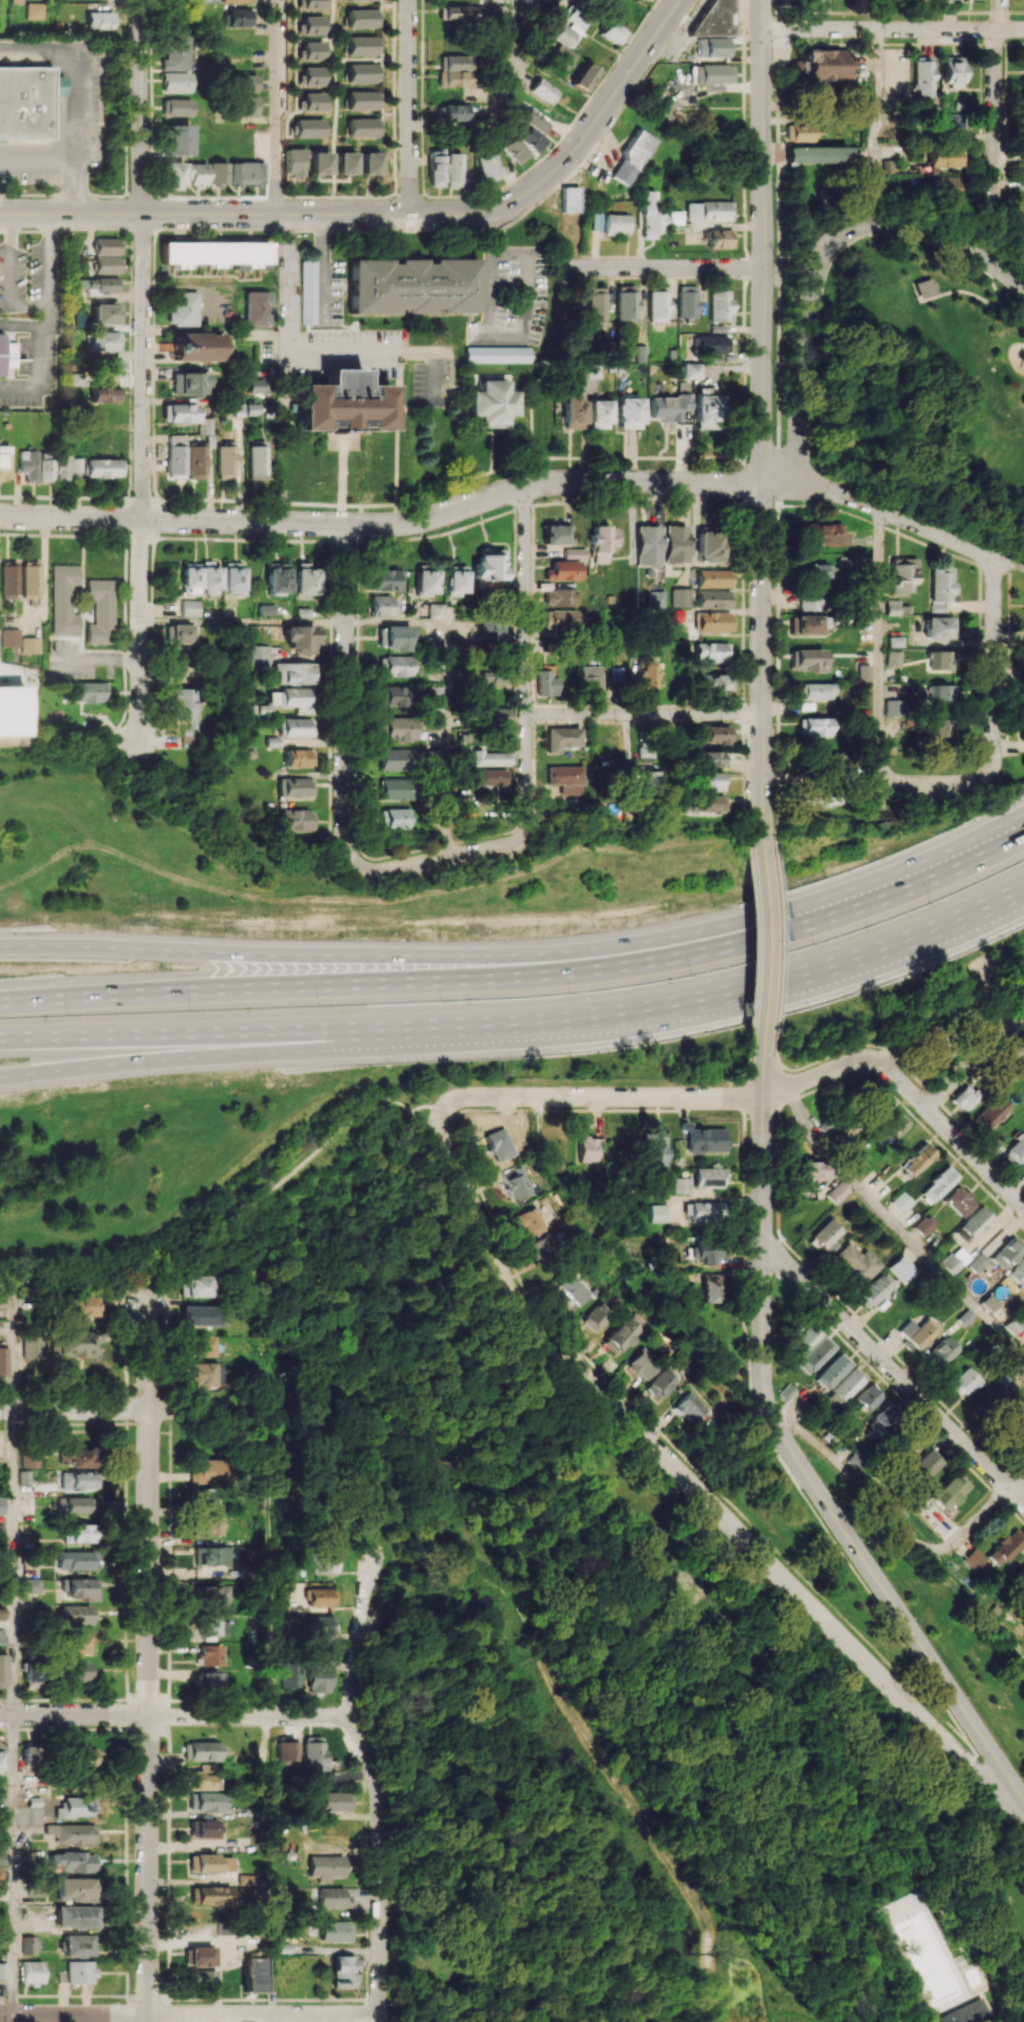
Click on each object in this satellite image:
building: (236, 0)
building: (349, 0)
building: (647, 0)
building: (16, 1)
building: (310, 4)
building: (37, 10)
building: (456, 12)
road: (1000, 14)
building: (240, 17)
building: (578, 17)
building: (362, 18)
building: (101, 20)
building: (311, 25)
road: (893, 29)
building: (613, 32)
road: (516, 34)
building: (565, 35)
building: (362, 45)
building: (712, 47)
building: (311, 51)
building: (176, 53)
building: (564, 56)
building: (455, 63)
building: (822, 64)
building: (1023, 70)
building: (951, 71)
building: (362, 73)
building: (711, 73)
building: (313, 76)
building: (585, 76)
building: (922, 78)
building: (454, 79)
building: (176, 82)
building: (243, 82)
building: (56, 86)
building: (544, 91)
road: (505, 92)
road: (74, 100)
building: (362, 100)
building: (312, 102)
building: (25, 104)
building: (243, 105)
road: (277, 106)
road: (410, 106)
building: (177, 107)
building: (456, 112)
road: (996, 116)
building: (948, 123)
building: (363, 127)
building: (308, 128)
road: (877, 128)
building: (531, 131)
building: (799, 131)
building: (177, 139)
building: (514, 149)
building: (817, 154)
building: (946, 156)
building: (632, 157)
road: (37, 160)
building: (294, 161)
building: (319, 162)
building: (345, 162)
building: (369, 163)
building: (487, 163)
building: (436, 167)
building: (456, 170)
building: (218, 172)
building: (247, 173)
building: (196, 174)
building: (173, 175)
building: (947, 187)
building: (570, 199)
building: (709, 210)
road: (394, 213)
road: (5, 214)
building: (652, 216)
building: (677, 217)
building: (615, 224)
road: (777, 237)
building: (720, 238)
building: (107, 246)
road: (839, 252)
building: (217, 254)
road: (826, 256)
building: (108, 264)
road: (666, 267)
road: (324, 268)
road: (47, 272)
road: (9, 278)
street lamp: (998, 282)
road: (288, 283)
building: (413, 286)
building: (927, 287)
road: (963, 291)
building: (308, 292)
building: (687, 301)
building: (626, 303)
building: (596, 304)
building: (658, 304)
building: (719, 306)
building: (257, 308)
building: (184, 309)
building: (106, 314)
road: (1012, 316)
road: (20, 325)
road: (505, 336)
building: (104, 341)
building: (198, 346)
building: (712, 346)
road: (383, 353)
building: (1, 354)
building: (497, 354)
building: (108, 367)
road: (144, 370)
building: (691, 370)
building: (579, 372)
road: (40, 374)
building: (190, 383)
building: (256, 385)
park: (927, 389)
building: (105, 394)
building: (341, 403)
building: (492, 403)
building: (669, 407)
building: (252, 409)
building: (180, 412)
building: (573, 412)
building: (629, 412)
building: (599, 414)
road: (763, 419)
building: (96, 442)
road: (793, 449)
building: (176, 456)
building: (226, 460)
building: (257, 460)
building: (4, 462)
building: (196, 462)
building: (28, 464)
building: (75, 464)
building: (46, 466)
building: (103, 467)
building: (62, 468)
road: (779, 476)
road: (905, 519)
road: (399, 523)
road: (896, 531)
building: (557, 534)
building: (821, 534)
building: (601, 541)
building: (676, 544)
building: (648, 545)
building: (709, 546)
building: (573, 553)
building: (850, 561)
road: (1019, 562)
building: (487, 565)
building: (562, 570)
building: (815, 571)
building: (902, 575)
building: (200, 578)
building: (233, 578)
building: (714, 578)
building: (30, 579)
building: (276, 579)
building: (455, 579)
building: (9, 580)
building: (385, 580)
building: (305, 581)
building: (425, 581)
building: (484, 585)
building: (941, 588)
building: (560, 596)
building: (681, 597)
building: (64, 599)
building: (656, 599)
building: (714, 599)
building: (809, 599)
building: (382, 606)
building: (892, 607)
building: (190, 608)
building: (265, 609)
building: (436, 610)
building: (101, 611)
building: (562, 619)
road: (243, 622)
building: (714, 622)
road: (397, 623)
building: (807, 624)
building: (940, 627)
building: (490, 631)
building: (180, 633)
building: (10, 637)
building: (397, 637)
building: (300, 639)
building: (895, 641)
building: (30, 645)
building: (712, 652)
road: (881, 655)
building: (258, 656)
building: (892, 658)
road: (97, 659)
building: (806, 660)
building: (942, 660)
road: (526, 661)
building: (396, 666)
building: (864, 672)
building: (295, 673)
road: (778, 673)
building: (617, 674)
building: (490, 676)
building: (647, 678)
building: (591, 680)
building: (718, 682)
building: (546, 683)
building: (88, 691)
building: (815, 691)
road: (347, 694)
building: (940, 694)
building: (395, 695)
building: (290, 700)
building: (436, 701)
building: (893, 707)
building: (11, 710)
building: (187, 712)
road: (644, 714)
building: (494, 716)
road: (995, 722)
building: (814, 726)
building: (297, 727)
building: (398, 728)
building: (665, 728)
building: (936, 728)
building: (1022, 729)
building: (713, 734)
building: (561, 738)
building: (272, 741)
road: (446, 741)
building: (643, 754)
building: (300, 758)
building: (489, 758)
building: (397, 759)
building: (708, 759)
building: (832, 760)
building: (489, 777)
building: (564, 778)
building: (648, 780)
building: (708, 781)
building: (296, 787)
building: (397, 789)
building: (822, 799)
building: (703, 804)
building: (396, 818)
building: (297, 820)
street lamp: (938, 830)
street lamp: (746, 842)
road: (440, 859)
street lamp: (828, 872)
street lamp: (927, 904)
street lamp: (714, 906)
street lamp: (106, 925)
street lamp: (595, 926)
street lamp: (228, 930)
street lamp: (349, 934)
street lamp: (472, 934)
street lamp: (1012, 934)
road: (764, 942)
road: (774, 943)
street lamp: (812, 945)
road: (520, 950)
street lamp: (778, 955)
street lamp: (691, 975)
street lamp: (915, 975)
road: (523, 977)
road: (992, 992)
road: (714, 993)
street lamp: (569, 994)
street lamp: (441, 1001)
street lamp: (319, 1006)
street lamp: (810, 1010)
street lamp: (191, 1011)
street lamp: (68, 1015)
road: (1011, 1021)
road: (193, 1032)
street lamp: (717, 1035)
building: (940, 1045)
road: (193, 1050)
street lamp: (608, 1052)
street lamp: (746, 1054)
road: (775, 1056)
street lamp: (511, 1062)
street lamp: (386, 1066)
road: (967, 1066)
street lamp: (259, 1075)
road: (746, 1075)
street lamp: (148, 1081)
street lamp: (669, 1082)
road: (908, 1089)
street lamp: (32, 1094)
road: (604, 1097)
building: (964, 1097)
road: (589, 1110)
street lamp: (528, 1113)
building: (989, 1114)
building: (892, 1125)
road: (441, 1136)
building: (703, 1139)
building: (587, 1148)
building: (1016, 1150)
building: (553, 1151)
building: (652, 1152)
building: (917, 1158)
building: (810, 1169)
building: (708, 1177)
building: (517, 1182)
building: (939, 1184)
building: (680, 1185)
building: (837, 1193)
building: (959, 1201)
building: (901, 1202)
building: (704, 1212)
building: (656, 1213)
road: (238, 1220)
building: (530, 1222)
building: (975, 1222)
building: (925, 1224)
road: (898, 1227)
road: (764, 1235)
building: (825, 1237)
building: (540, 1246)
building: (1008, 1252)
building: (707, 1254)
building: (955, 1260)
building: (978, 1262)
building: (856, 1265)
building: (902, 1269)
building: (1018, 1274)
building: (197, 1286)
building: (710, 1287)
building: (574, 1288)
building: (875, 1290)
building: (3, 1299)
road: (124, 1302)
building: (80, 1309)
building: (599, 1314)
building: (199, 1315)
building: (965, 1317)
building: (1014, 1325)
building: (0, 1326)
building: (917, 1333)
building: (621, 1335)
building: (803, 1339)
building: (77, 1343)
building: (198, 1346)
road: (13, 1347)
building: (32, 1347)
road: (272, 1350)
building: (940, 1353)
building: (815, 1354)
building: (3, 1360)
building: (644, 1363)
building: (832, 1370)
road: (894, 1372)
building: (201, 1374)
building: (964, 1382)
building: (661, 1384)
building: (845, 1386)
building: (787, 1391)
building: (866, 1396)
building: (991, 1398)
building: (691, 1407)
road: (136, 1409)
building: (1019, 1422)
building: (904, 1444)
building: (78, 1457)
building: (30, 1458)
road: (779, 1459)
building: (853, 1459)
road: (691, 1461)
building: (924, 1464)
building: (207, 1470)
building: (24, 1477)
road: (852, 1479)
building: (79, 1481)
road: (695, 1485)
building: (948, 1491)
building: (202, 1498)
building: (2, 1505)
building: (75, 1506)
road: (977, 1516)
building: (209, 1526)
building: (78, 1533)
building: (1005, 1547)
building: (210, 1555)
building: (973, 1558)
building: (77, 1560)
building: (325, 1561)
road: (13, 1562)
road: (273, 1563)
building: (1020, 1575)
building: (29, 1585)
building: (82, 1588)
building: (209, 1596)
building: (321, 1597)
road: (977, 1604)
road: (898, 1608)
building: (1, 1613)
building: (76, 1615)
park: (583, 1615)
building: (321, 1625)
building: (209, 1626)
building: (1, 1636)
building: (79, 1643)
building: (209, 1655)
road: (149, 1665)
building: (2, 1670)
building: (78, 1671)
building: (31, 1674)
building: (289, 1675)
building: (320, 1676)
building: (208, 1682)
road: (175, 1717)
building: (203, 1751)
building: (287, 1751)
building: (31, 1753)
building: (314, 1754)
building: (82, 1756)
road: (968, 1765)
building: (202, 1777)
road: (378, 1784)
building: (336, 1801)
building: (207, 1802)
road: (991, 1807)
building: (70, 1808)
building: (202, 1828)
building: (70, 1834)
building: (76, 1862)
building: (210, 1863)
road: (12, 1865)
building: (325, 1867)
building: (75, 1889)
building: (211, 1896)
building: (333, 1898)
building: (75, 1917)
building: (336, 1931)
building: (30, 1945)
building: (78, 1946)
building: (198, 1956)
building: (3, 1970)
building: (343, 1971)
building: (31, 1972)
building: (80, 1972)
building: (254, 1974)
building: (202, 1977)
building: (966, 2013)
road: (187, 2015)
road: (11, 2018)

